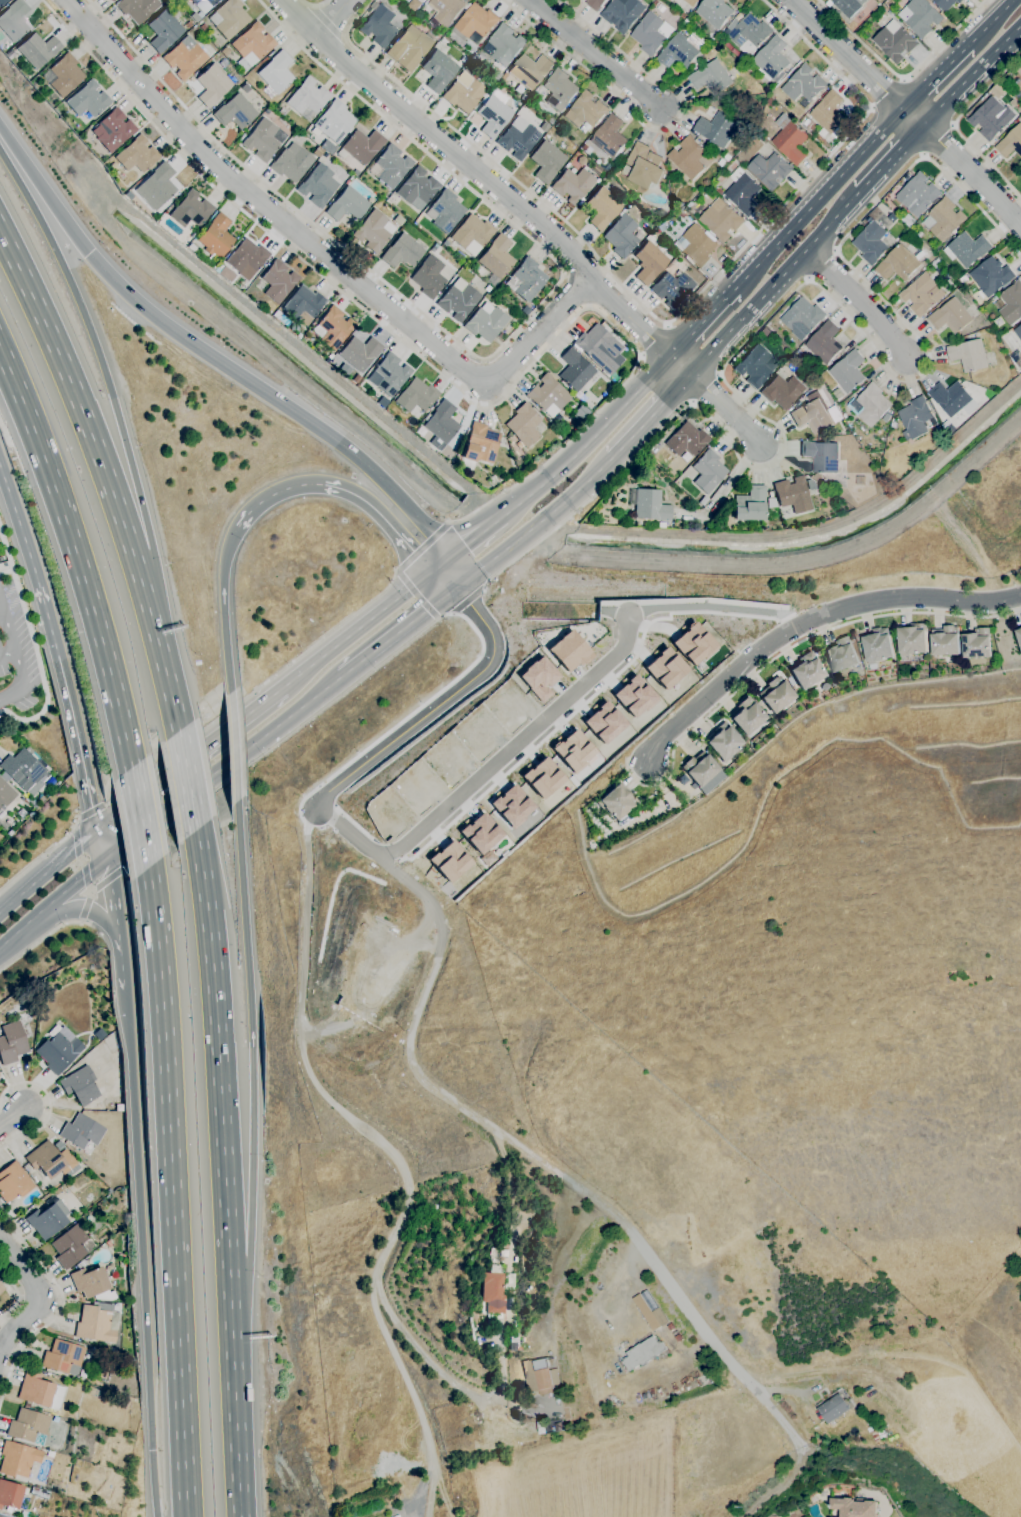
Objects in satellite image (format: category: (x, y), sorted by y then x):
building: (111, 0)
park: (313, 0)
building: (421, 0)
building: (177, 1)
building: (3, 2)
building: (654, 2)
building: (689, 2)
building: (828, 3)
building: (946, 3)
building: (414, 4)
building: (594, 4)
building: (204, 5)
road: (314, 5)
road: (310, 6)
building: (848, 6)
building: (660, 8)
building: (137, 9)
building: (445, 10)
building: (713, 12)
building: (622, 13)
building: (920, 16)
building: (195, 17)
building: (229, 18)
road: (329, 19)
building: (14, 20)
road: (991, 20)
building: (685, 21)
road: (325, 23)
building: (475, 23)
building: (189, 25)
building: (379, 26)
building: (204, 27)
building: (164, 31)
building: (651, 33)
building: (748, 33)
road: (344, 37)
building: (894, 41)
building: (503, 45)
building: (252, 46)
building: (409, 48)
building: (38, 50)
building: (682, 50)
building: (225, 52)
road: (594, 53)
building: (185, 58)
building: (771, 59)
building: (530, 70)
building: (1019, 70)
building: (438, 71)
building: (276, 74)
building: (494, 74)
road: (937, 74)
building: (65, 75)
road: (902, 75)
road: (971, 76)
building: (710, 77)
building: (487, 78)
building: (803, 84)
building: (212, 85)
building: (193, 86)
building: (559, 89)
road: (890, 92)
building: (463, 93)
building: (1017, 94)
building: (308, 98)
building: (88, 100)
building: (770, 102)
building: (1018, 108)
building: (585, 110)
building: (235, 112)
building: (283, 112)
building: (829, 113)
road: (908, 113)
building: (494, 114)
building: (988, 118)
building: (335, 122)
road: (954, 125)
building: (114, 129)
road: (659, 129)
building: (716, 129)
building: (309, 131)
building: (822, 132)
building: (609, 136)
building: (518, 139)
building: (789, 139)
building: (264, 140)
building: (1010, 142)
building: (327, 146)
building: (361, 146)
building: (585, 147)
building: (137, 155)
building: (623, 155)
building: (687, 157)
building: (726, 157)
road: (889, 159)
building: (546, 162)
building: (721, 162)
building: (291, 163)
building: (392, 166)
building: (644, 166)
building: (358, 168)
building: (769, 169)
building: (1020, 175)
road: (488, 181)
building: (320, 184)
building: (159, 185)
building: (573, 185)
building: (417, 188)
building: (718, 190)
road: (43, 191)
building: (743, 192)
building: (917, 194)
building: (391, 197)
road: (818, 198)
building: (347, 205)
building: (602, 208)
building: (191, 210)
building: (445, 211)
building: (682, 213)
building: (905, 217)
building: (943, 219)
building: (720, 220)
building: (374, 231)
building: (192, 235)
building: (472, 235)
building: (898, 235)
building: (621, 236)
building: (216, 239)
building: (870, 242)
building: (696, 246)
building: (966, 248)
building: (193, 249)
building: (402, 252)
traffic signals: (89, 253)
road: (320, 253)
building: (246, 259)
building: (496, 259)
building: (935, 262)
building: (649, 263)
building: (898, 263)
building: (213, 267)
building: (480, 271)
building: (226, 274)
building: (990, 275)
building: (429, 277)
building: (528, 279)
building: (963, 279)
building: (277, 281)
road: (769, 283)
building: (672, 289)
road: (575, 290)
road: (790, 294)
building: (921, 294)
building: (458, 300)
road: (857, 302)
building: (1009, 302)
building: (303, 305)
building: (950, 316)
road: (658, 317)
building: (802, 317)
building: (486, 322)
road: (700, 323)
building: (333, 328)
building: (765, 332)
building: (500, 335)
road: (652, 339)
building: (960, 339)
building: (824, 343)
building: (1014, 343)
building: (596, 345)
building: (360, 353)
building: (968, 354)
road: (480, 359)
building: (999, 360)
road: (100, 364)
building: (756, 367)
road: (435, 370)
building: (575, 370)
building: (847, 372)
building: (388, 375)
road: (717, 375)
building: (615, 379)
building: (826, 385)
road: (702, 388)
building: (782, 391)
building: (548, 395)
building: (416, 396)
road: (274, 397)
building: (952, 398)
building: (384, 403)
road: (691, 403)
building: (869, 404)
road: (82, 407)
road: (723, 411)
building: (581, 413)
building: (813, 413)
road: (647, 416)
building: (885, 417)
building: (916, 418)
building: (441, 423)
building: (893, 425)
building: (524, 426)
building: (949, 428)
road: (588, 440)
building: (687, 440)
building: (481, 444)
building: (650, 455)
building: (821, 455)
building: (686, 457)
building: (708, 471)
building: (493, 481)
building: (811, 485)
road: (340, 489)
road: (8, 491)
building: (771, 495)
building: (793, 495)
building: (846, 497)
building: (703, 501)
building: (771, 503)
building: (750, 504)
building: (651, 506)
building: (772, 513)
road: (492, 524)
road: (534, 524)
building: (661, 525)
road: (465, 543)
road: (421, 546)
road: (78, 554)
traffic signals: (449, 555)
road: (439, 563)
road: (395, 570)
road: (452, 570)
traffic signals: (430, 571)
road: (442, 578)
traffic signals: (455, 586)
road: (416, 594)
road: (468, 600)
road: (712, 607)
road: (222, 609)
road: (452, 613)
road: (1, 616)
road: (438, 618)
road: (808, 622)
road: (355, 629)
road: (398, 630)
building: (1018, 634)
building: (911, 639)
building: (944, 640)
building: (976, 643)
building: (692, 644)
building: (876, 646)
building: (568, 651)
road: (787, 651)
road: (7, 653)
building: (840, 654)
road: (15, 656)
road: (161, 661)
building: (664, 668)
road: (62, 670)
road: (280, 671)
building: (806, 671)
building: (538, 678)
building: (790, 681)
building: (825, 687)
building: (776, 694)
building: (633, 696)
road: (436, 706)
building: (747, 716)
building: (603, 723)
road: (291, 734)
building: (723, 742)
road: (514, 745)
road: (232, 746)
building: (573, 750)
road: (189, 758)
road: (224, 768)
building: (699, 769)
building: (23, 771)
building: (722, 775)
building: (542, 778)
road: (186, 780)
road: (132, 786)
building: (6, 793)
building: (40, 798)
building: (617, 802)
building: (34, 804)
building: (511, 806)
road: (94, 810)
building: (21, 813)
road: (138, 817)
road: (74, 828)
traffic signals: (98, 828)
road: (348, 832)
building: (10, 833)
building: (480, 833)
road: (76, 843)
road: (102, 844)
road: (42, 856)
traffic signals: (106, 860)
road: (81, 861)
building: (449, 861)
road: (129, 867)
road: (48, 869)
road: (86, 875)
road: (111, 878)
road: (74, 883)
road: (89, 889)
road: (90, 892)
road: (113, 896)
road: (85, 908)
road: (85, 909)
road: (81, 922)
road: (22, 927)
road: (43, 939)
road: (121, 961)
building: (100, 1034)
building: (12, 1043)
building: (59, 1051)
road: (253, 1054)
road: (217, 1067)
building: (80, 1086)
building: (99, 1086)
road: (49, 1106)
road: (15, 1120)
building: (81, 1132)
road: (393, 1157)
building: (51, 1161)
road: (541, 1161)
building: (14, 1182)
road: (171, 1191)
building: (435, 1208)
building: (48, 1220)
building: (108, 1244)
building: (70, 1247)
road: (141, 1252)
building: (82, 1264)
building: (113, 1274)
building: (92, 1284)
building: (1, 1288)
building: (497, 1289)
road: (19, 1294)
road: (39, 1297)
park: (925, 1297)
building: (511, 1304)
road: (60, 1309)
building: (654, 1309)
road: (231, 1322)
building: (98, 1323)
building: (670, 1327)
building: (472, 1329)
building: (676, 1339)
building: (514, 1347)
building: (642, 1353)
building: (63, 1358)
building: (551, 1359)
road: (442, 1371)
building: (539, 1376)
building: (90, 1391)
building: (40, 1392)
building: (832, 1408)
building: (29, 1426)
building: (558, 1426)
building: (542, 1427)
road: (236, 1428)
traffic signals: (152, 1450)
building: (50, 1454)
building: (18, 1459)
building: (10, 1494)
building: (854, 1507)
building: (1, 1516)

